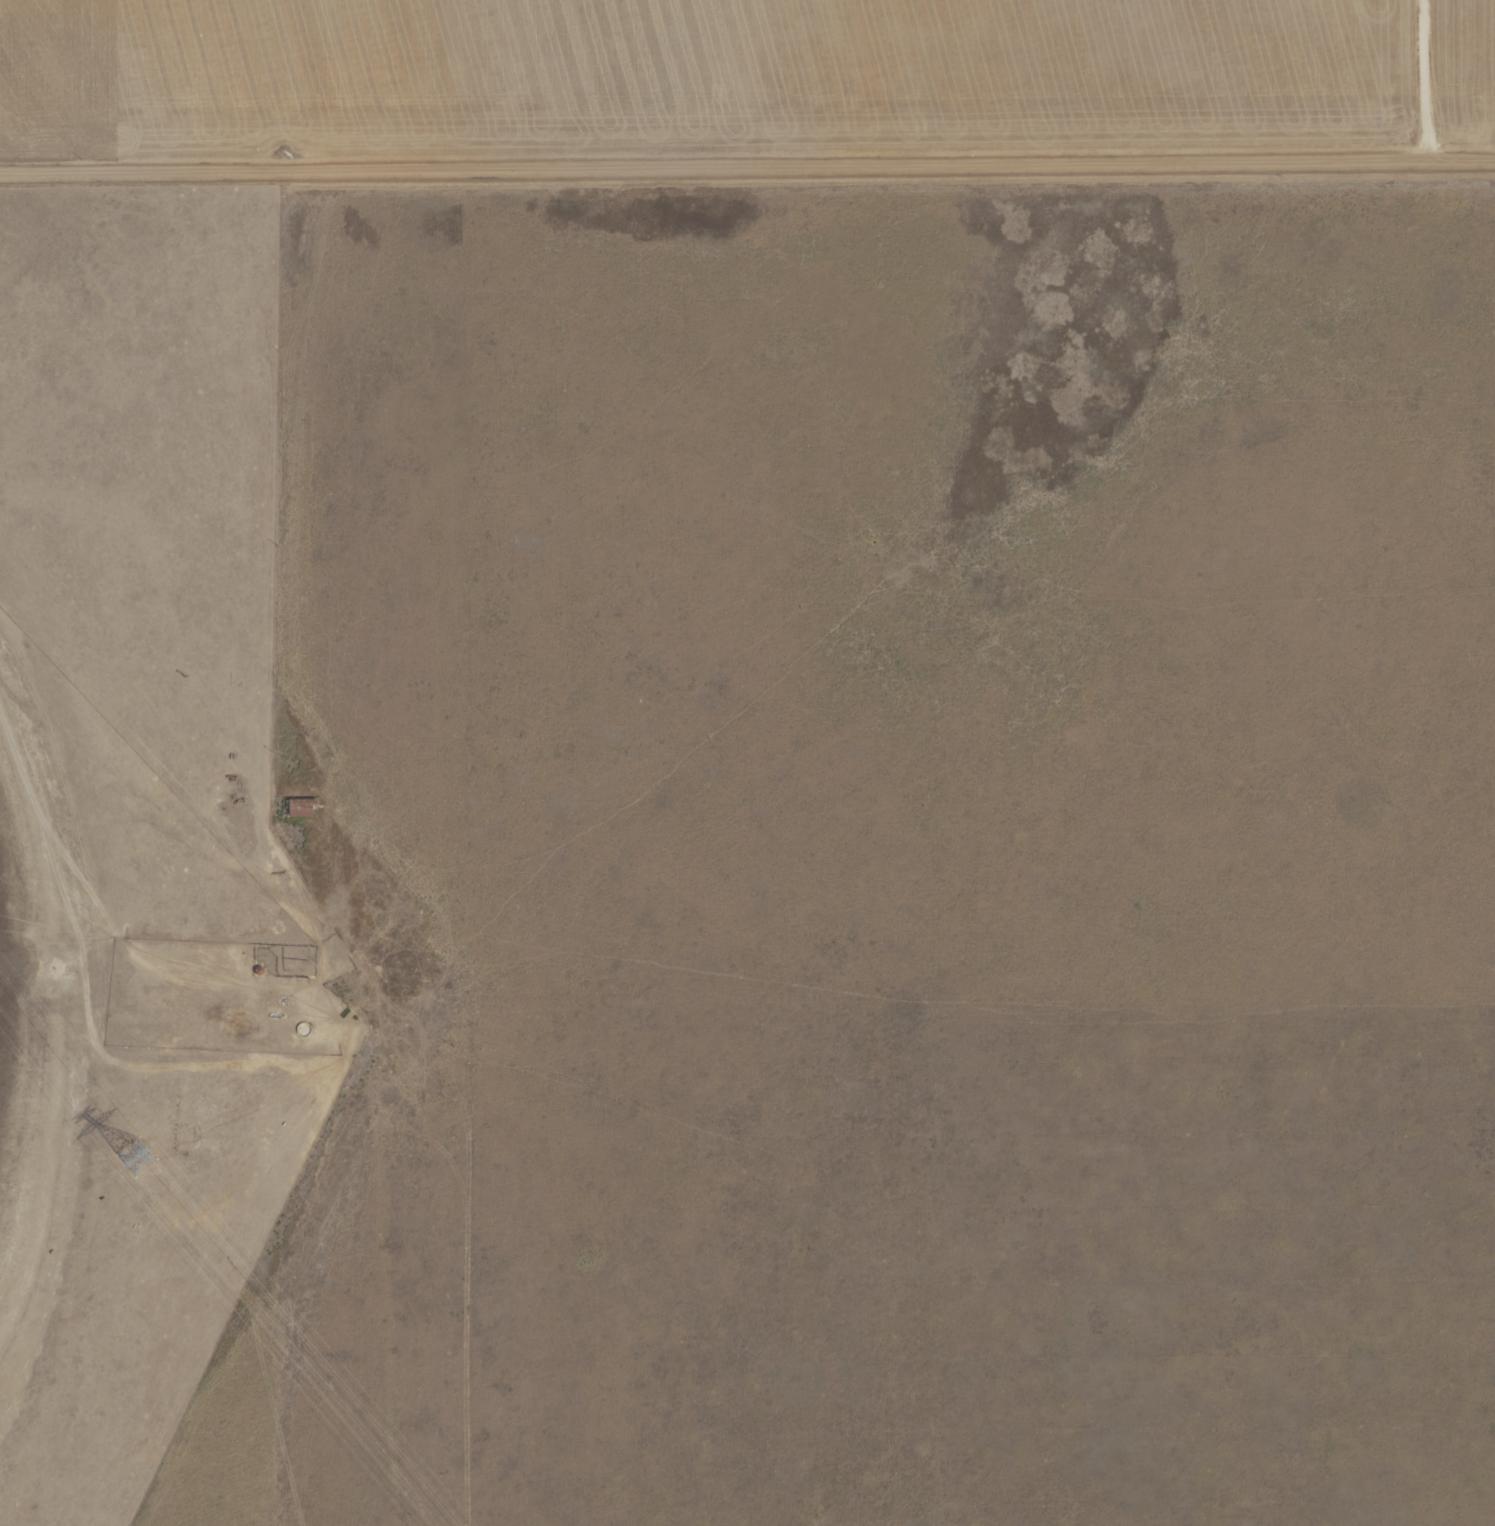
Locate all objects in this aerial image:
road: (1426, 80)
road: (747, 163)
road: (288, 564)
building: (304, 808)
power tower: (136, 1157)

